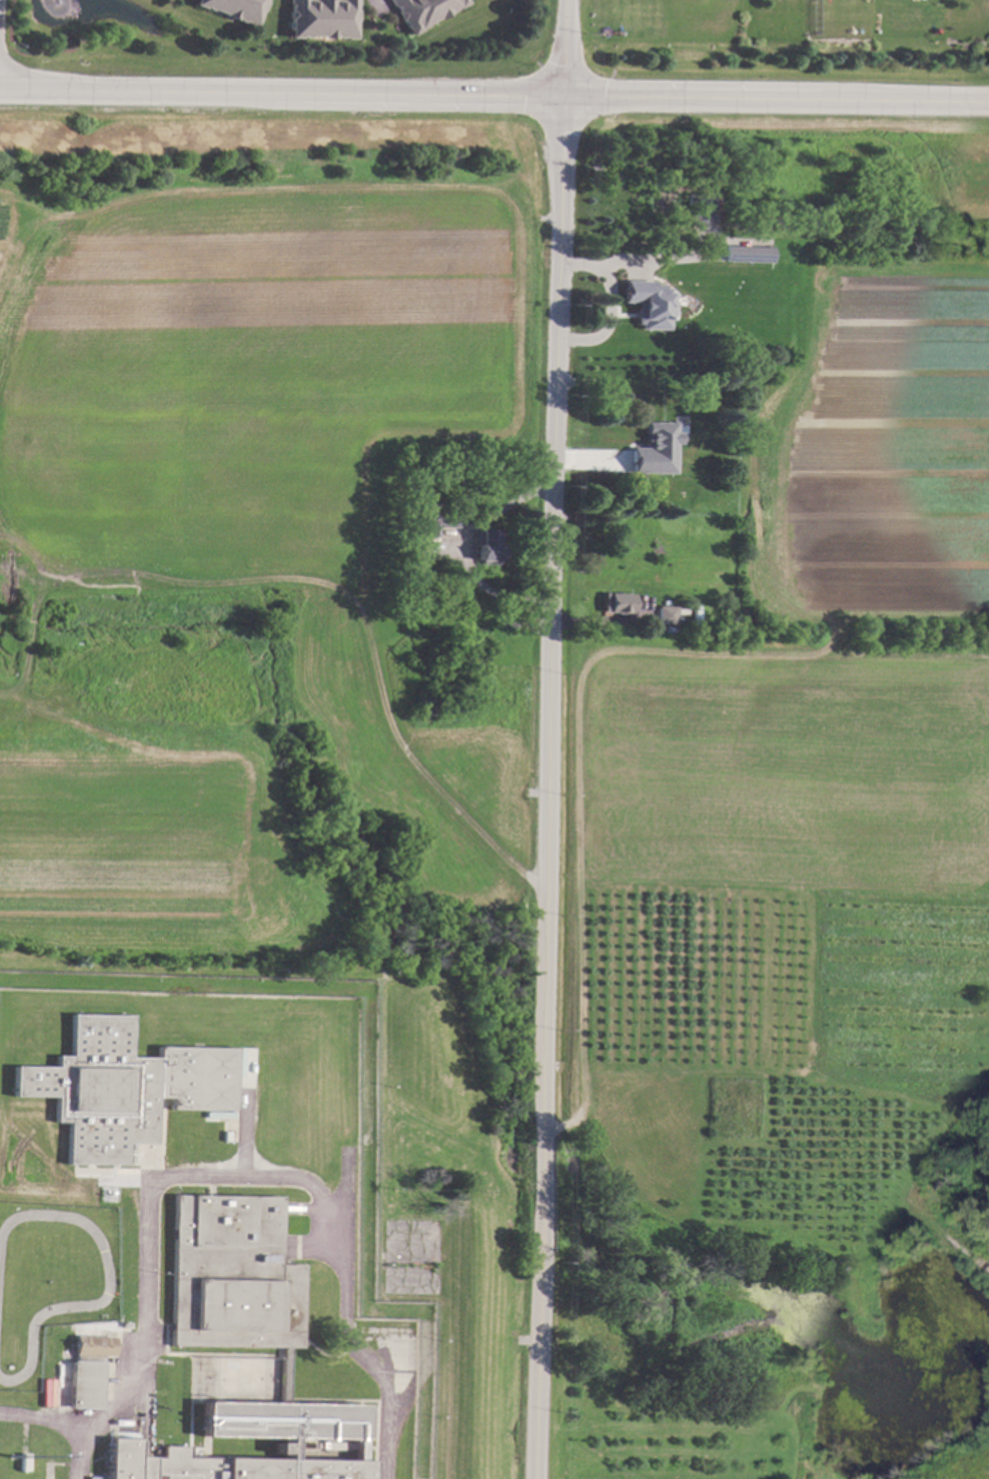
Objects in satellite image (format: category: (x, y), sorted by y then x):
building: (233, 9)
building: (420, 12)
building: (318, 18)
road: (494, 96)
building: (702, 209)
building: (675, 240)
building: (751, 253)
road: (604, 305)
building: (657, 317)
crop: (239, 368)
building: (649, 405)
building: (702, 447)
crop: (887, 451)
building: (655, 465)
building: (426, 477)
building: (444, 520)
building: (488, 547)
building: (617, 602)
building: (667, 614)
building: (427, 707)
road: (547, 739)
crop: (788, 774)
crop: (121, 842)
building: (122, 1087)
building: (240, 1344)
building: (88, 1369)
road: (62, 1421)
building: (24, 1462)

